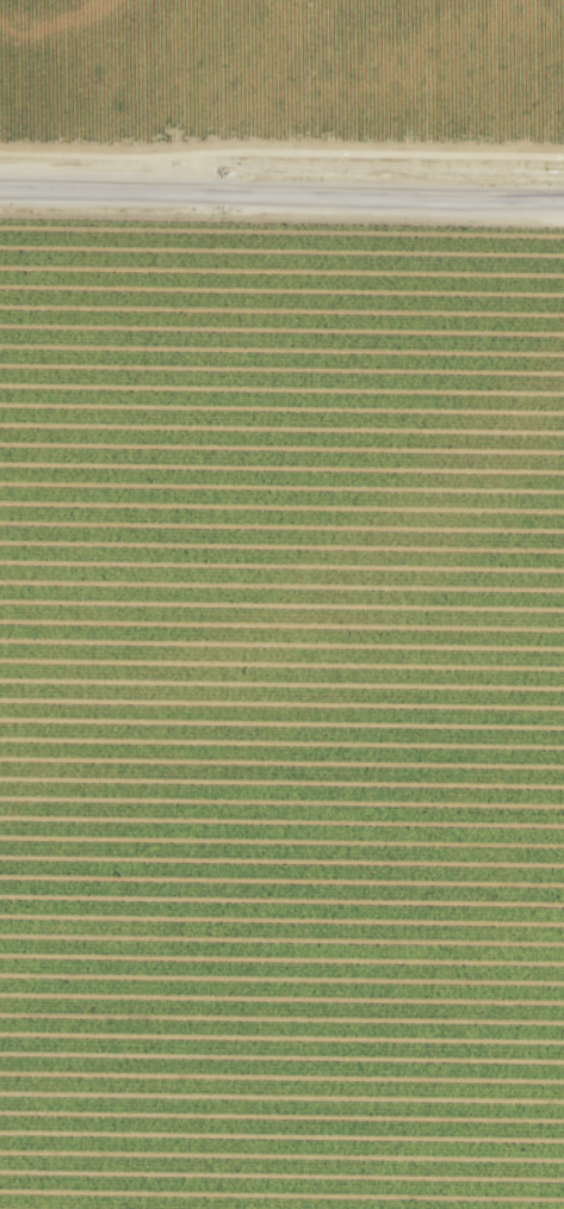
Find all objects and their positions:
road: (281, 150)
road: (281, 191)

